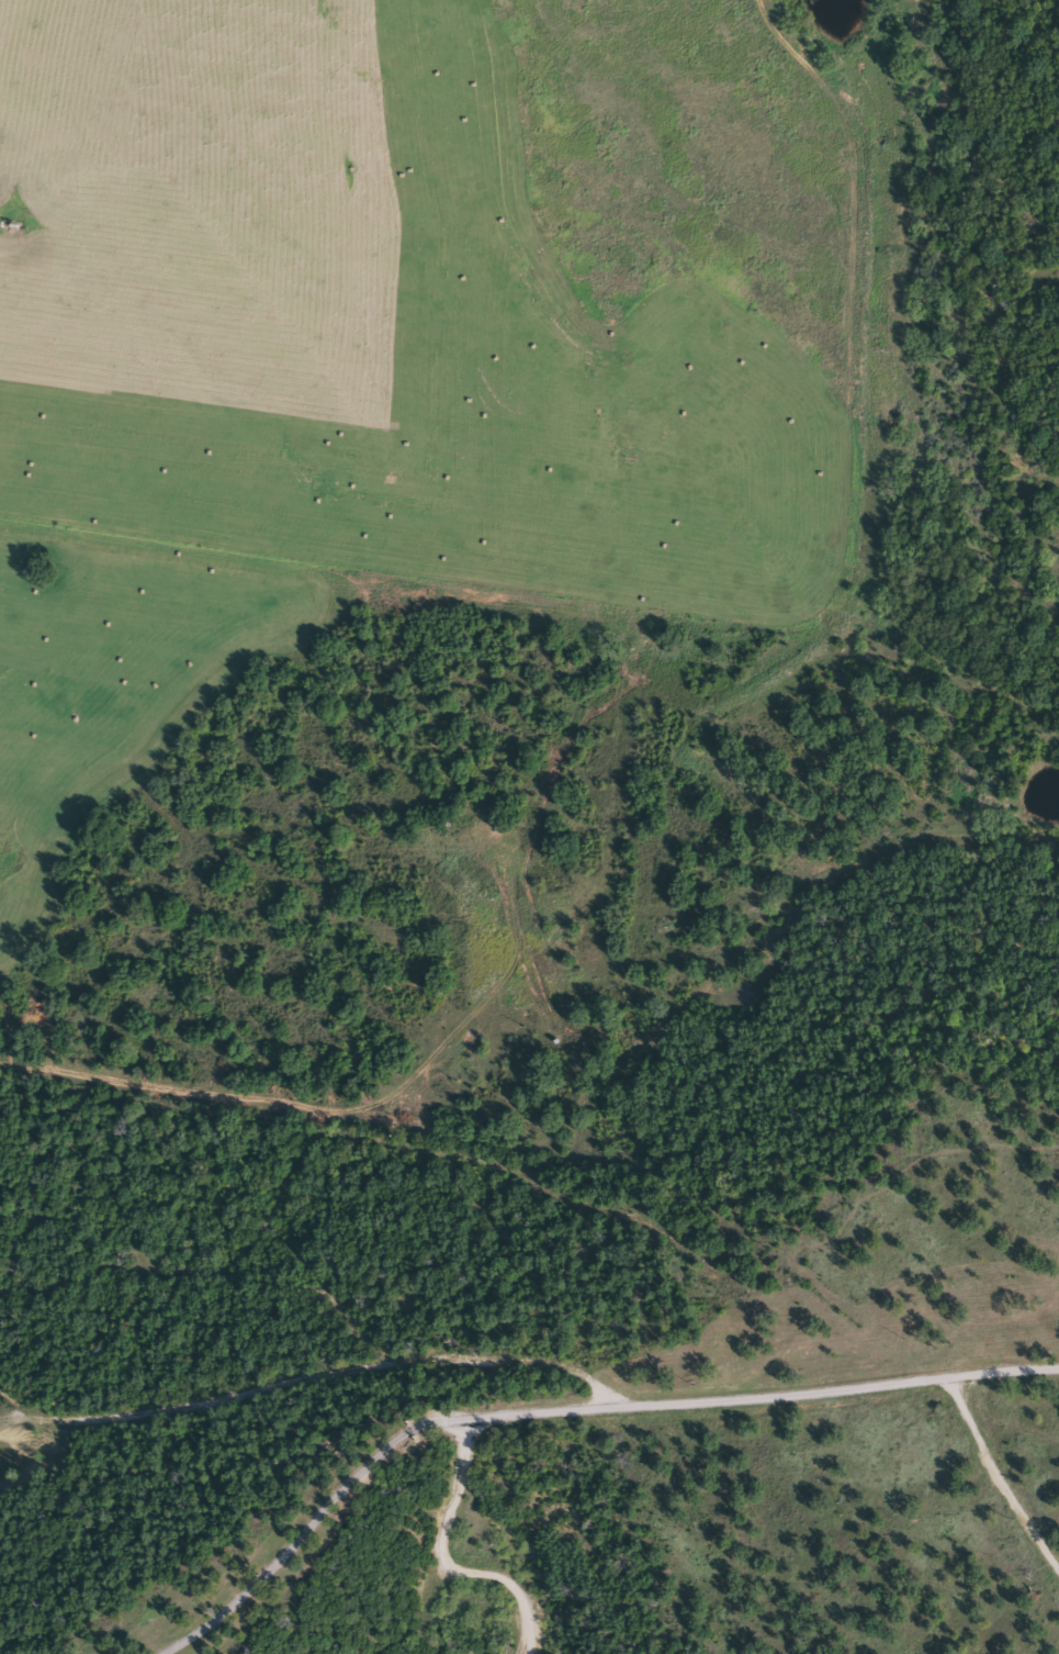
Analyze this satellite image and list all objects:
road: (615, 1409)
road: (1002, 1472)
road: (308, 1528)

